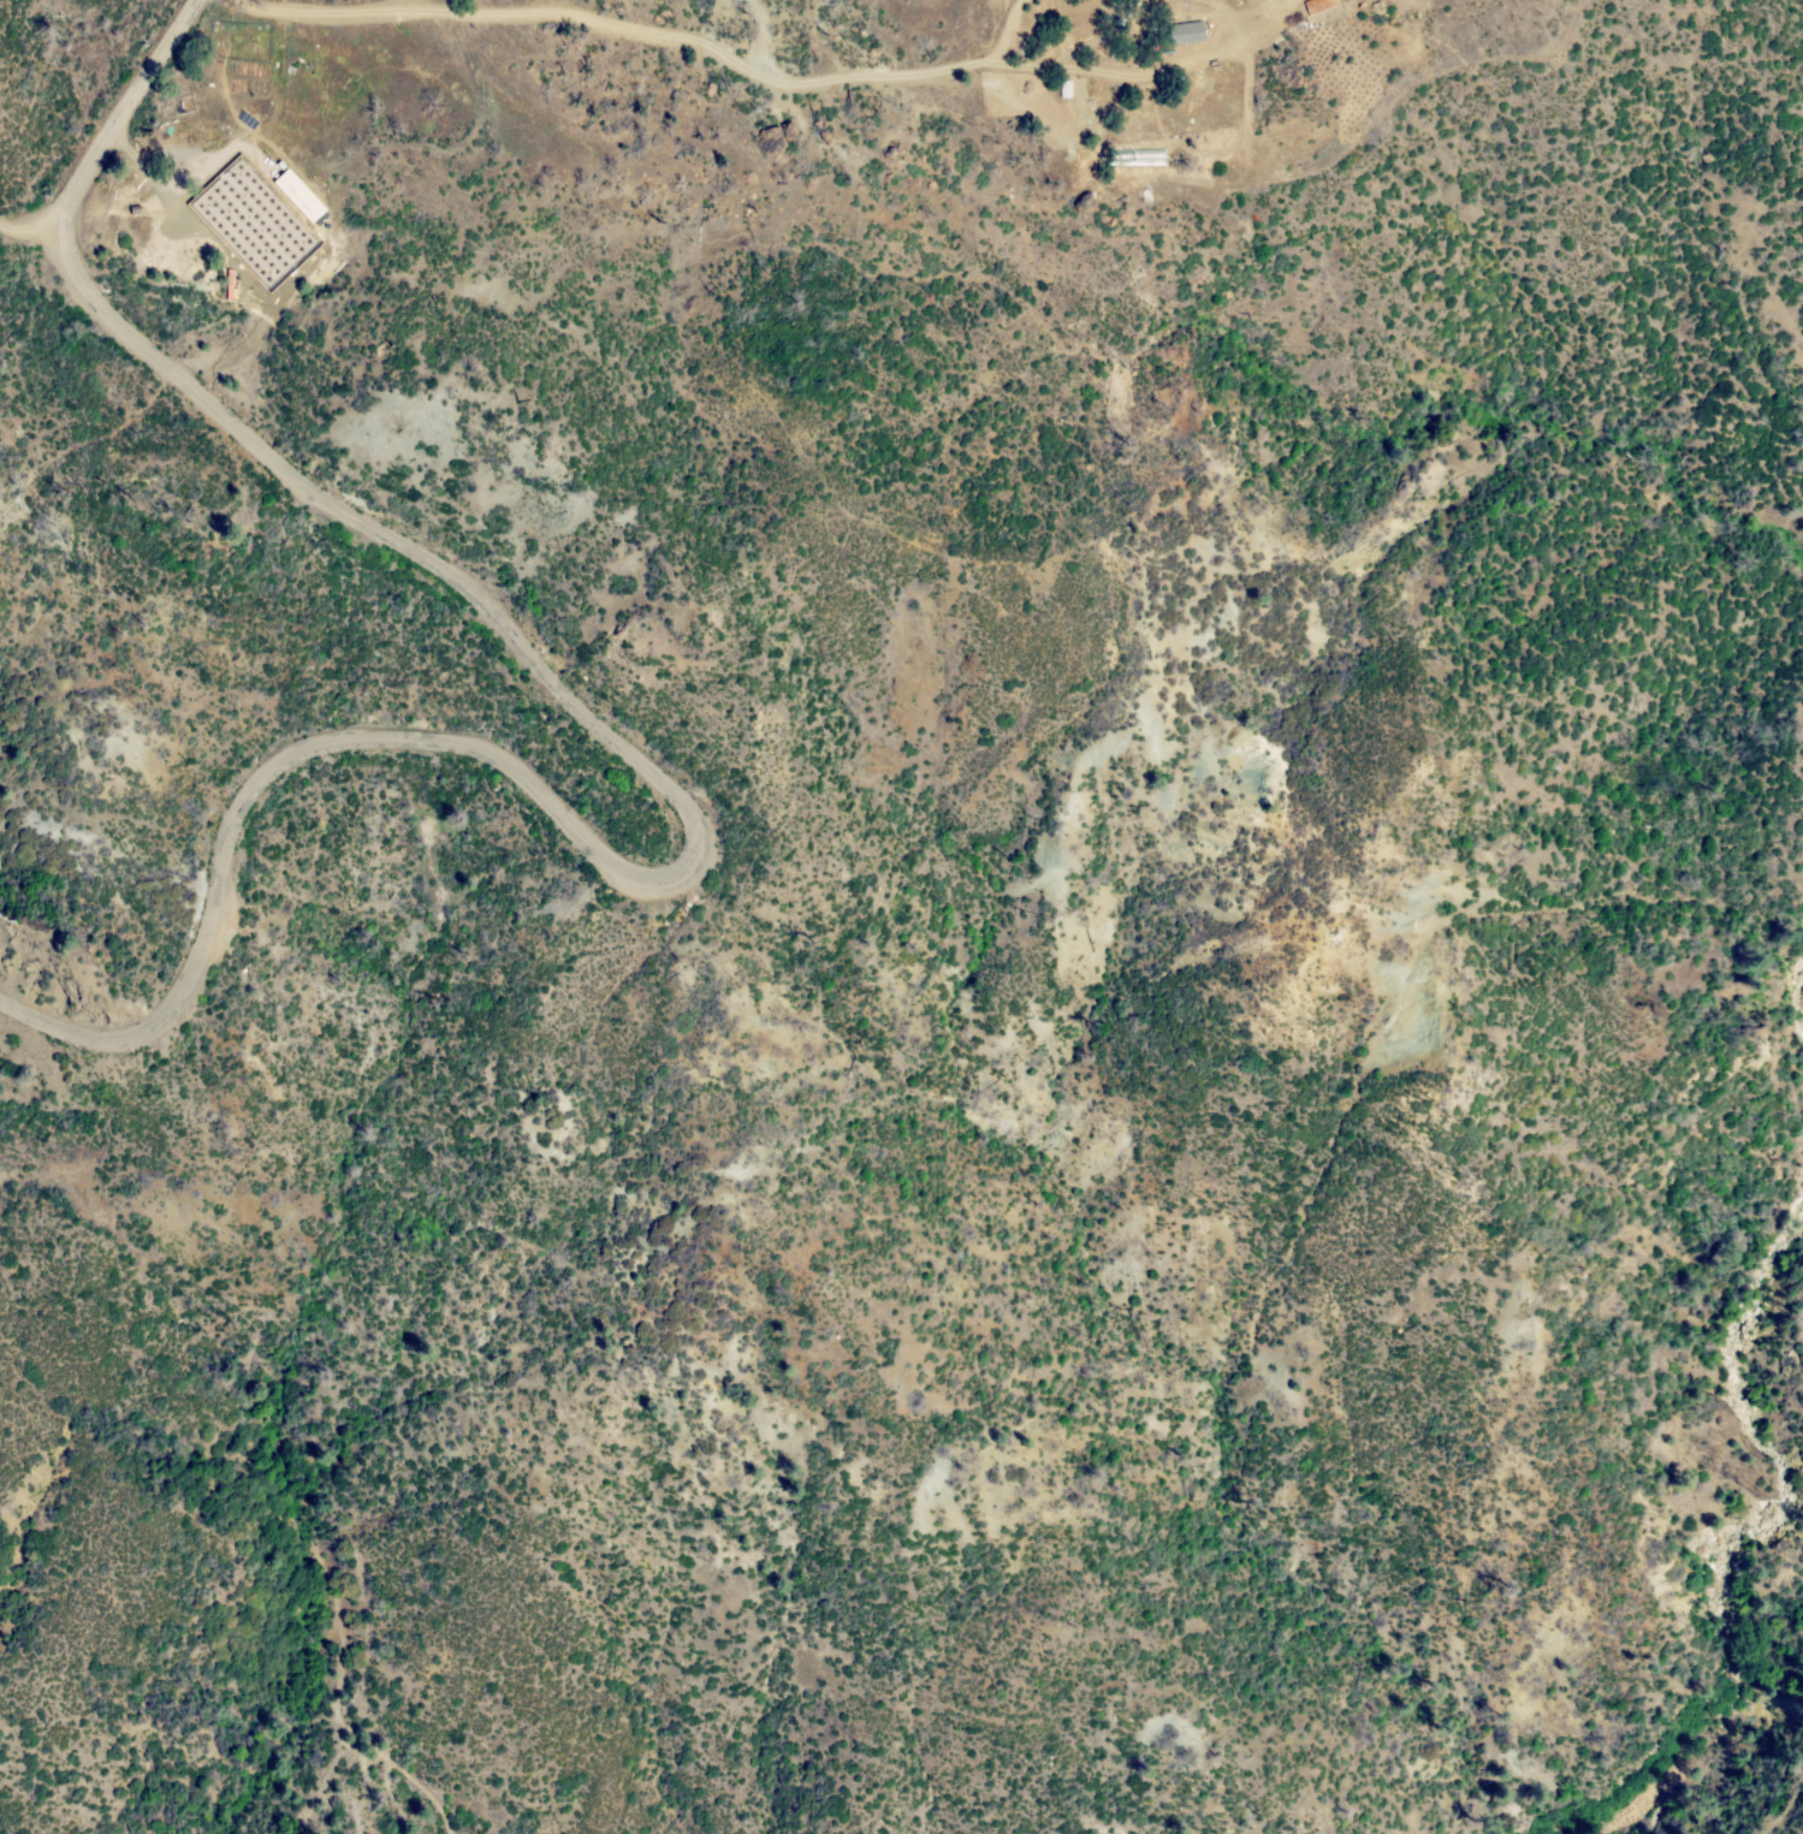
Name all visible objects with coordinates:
building: (1279, 5)
building: (1321, 5)
road: (395, 6)
road: (1004, 31)
building: (1188, 32)
road: (1014, 67)
building: (1066, 89)
building: (227, 132)
building: (299, 196)
road: (34, 230)
building: (237, 277)
building: (262, 283)
road: (635, 756)

